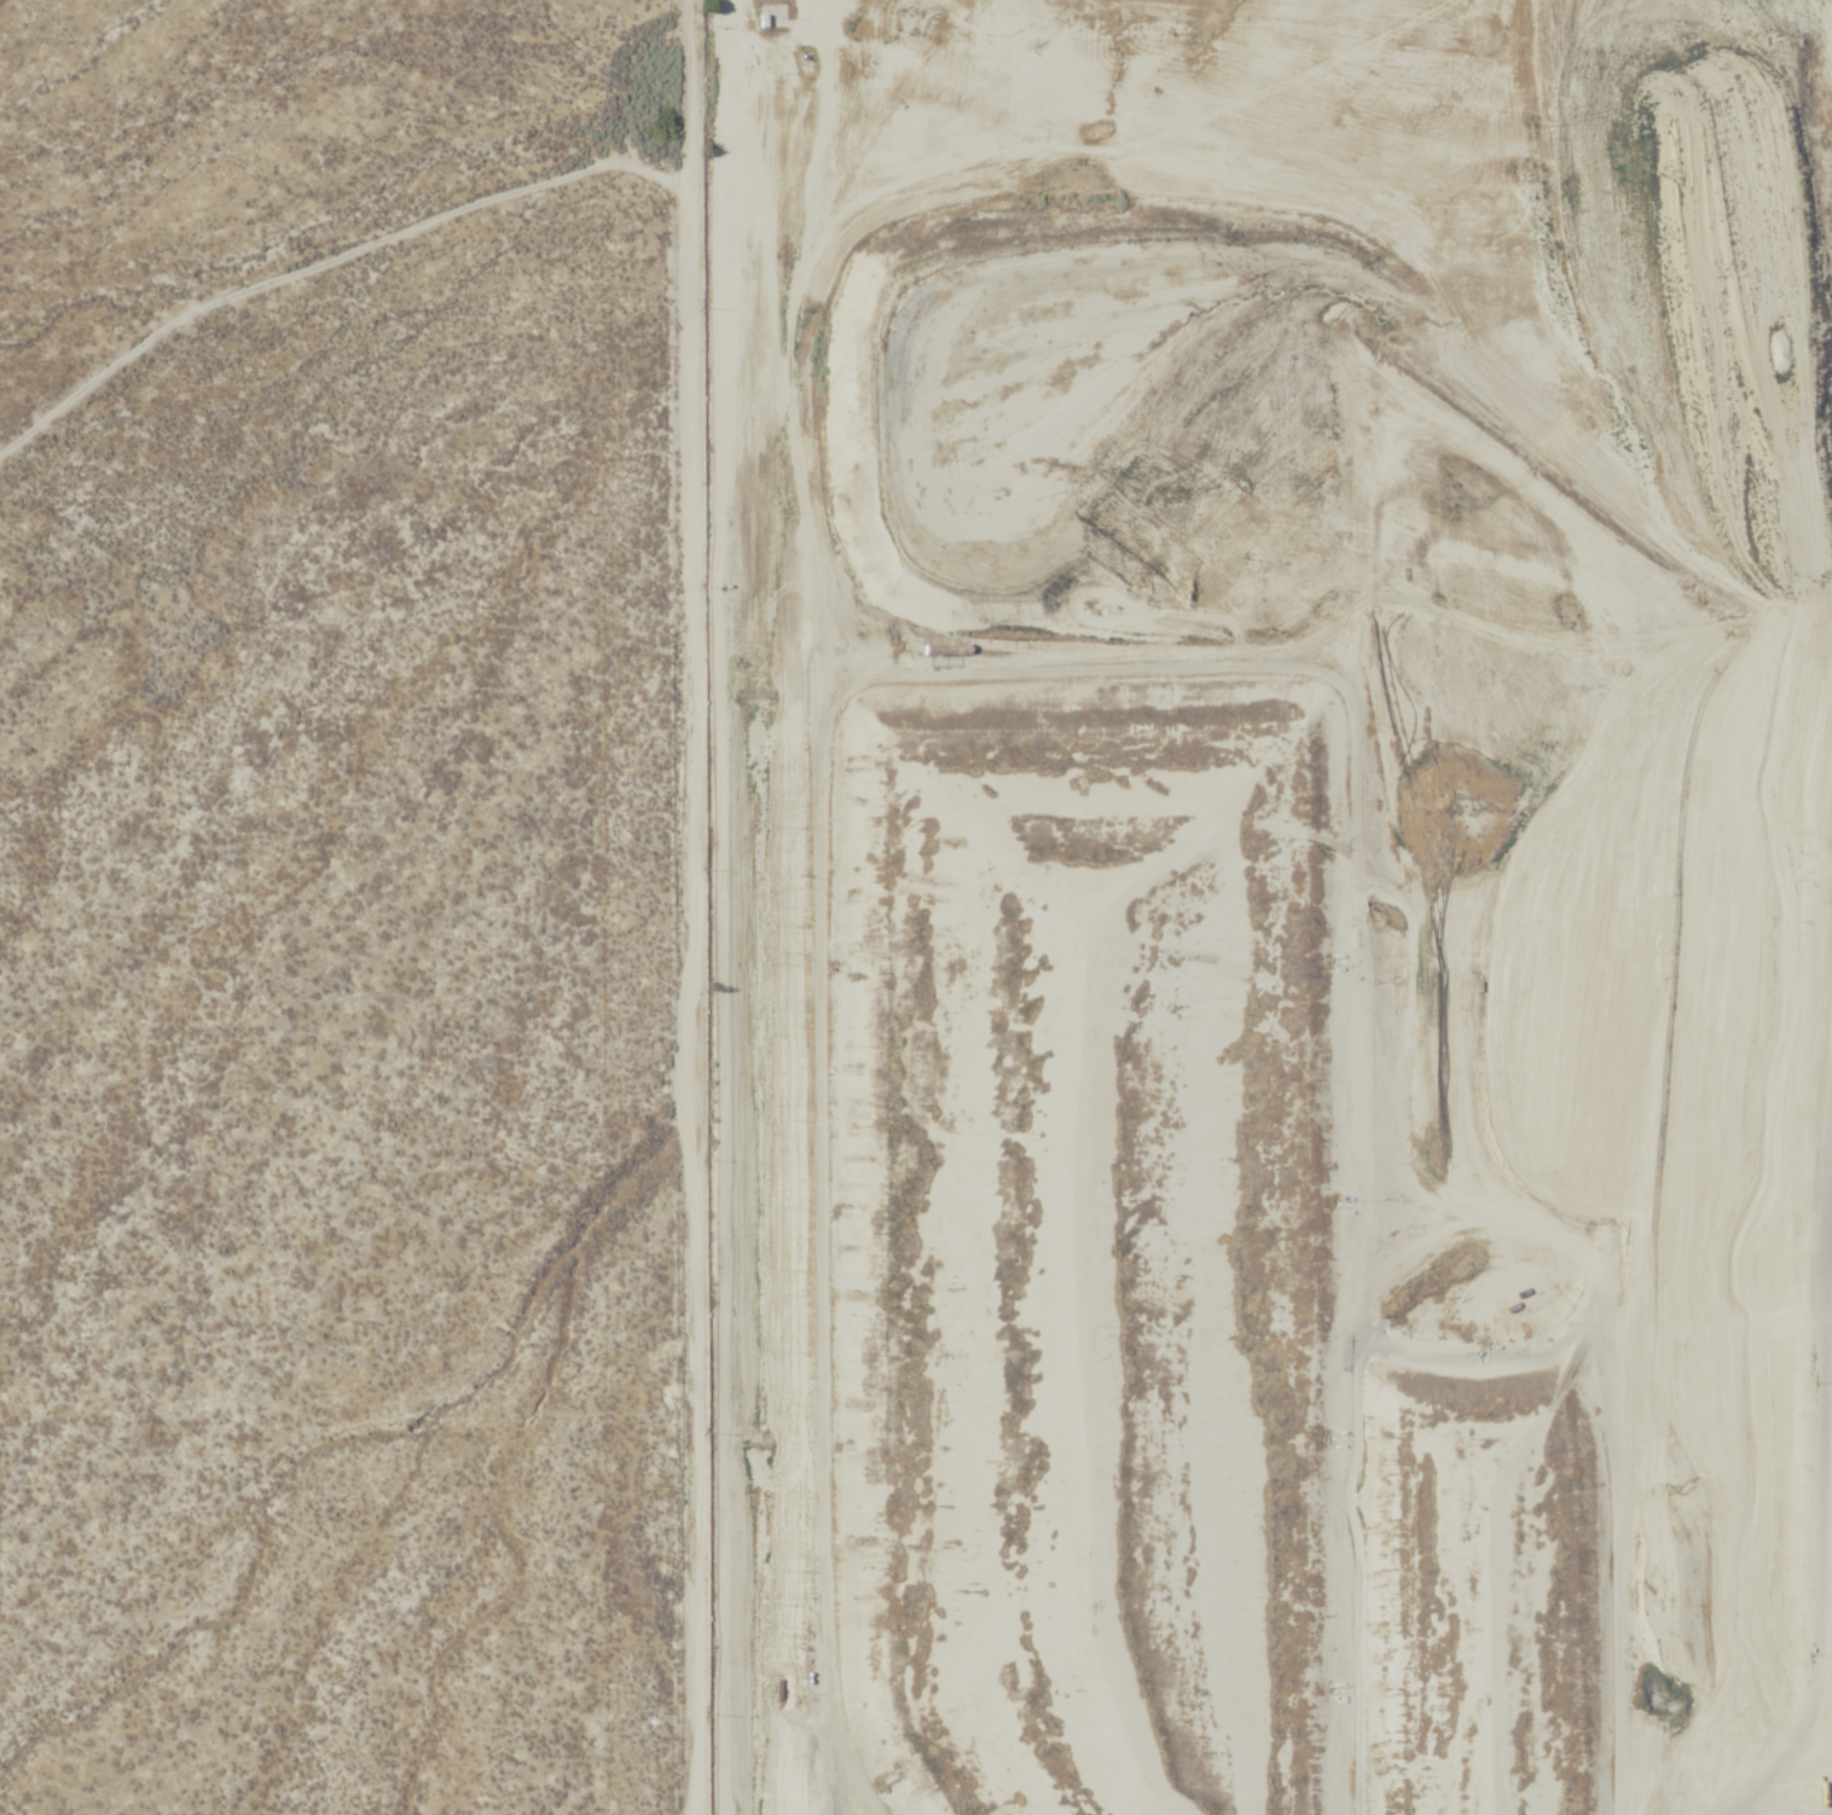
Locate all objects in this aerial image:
landfill: (1240, 907)

